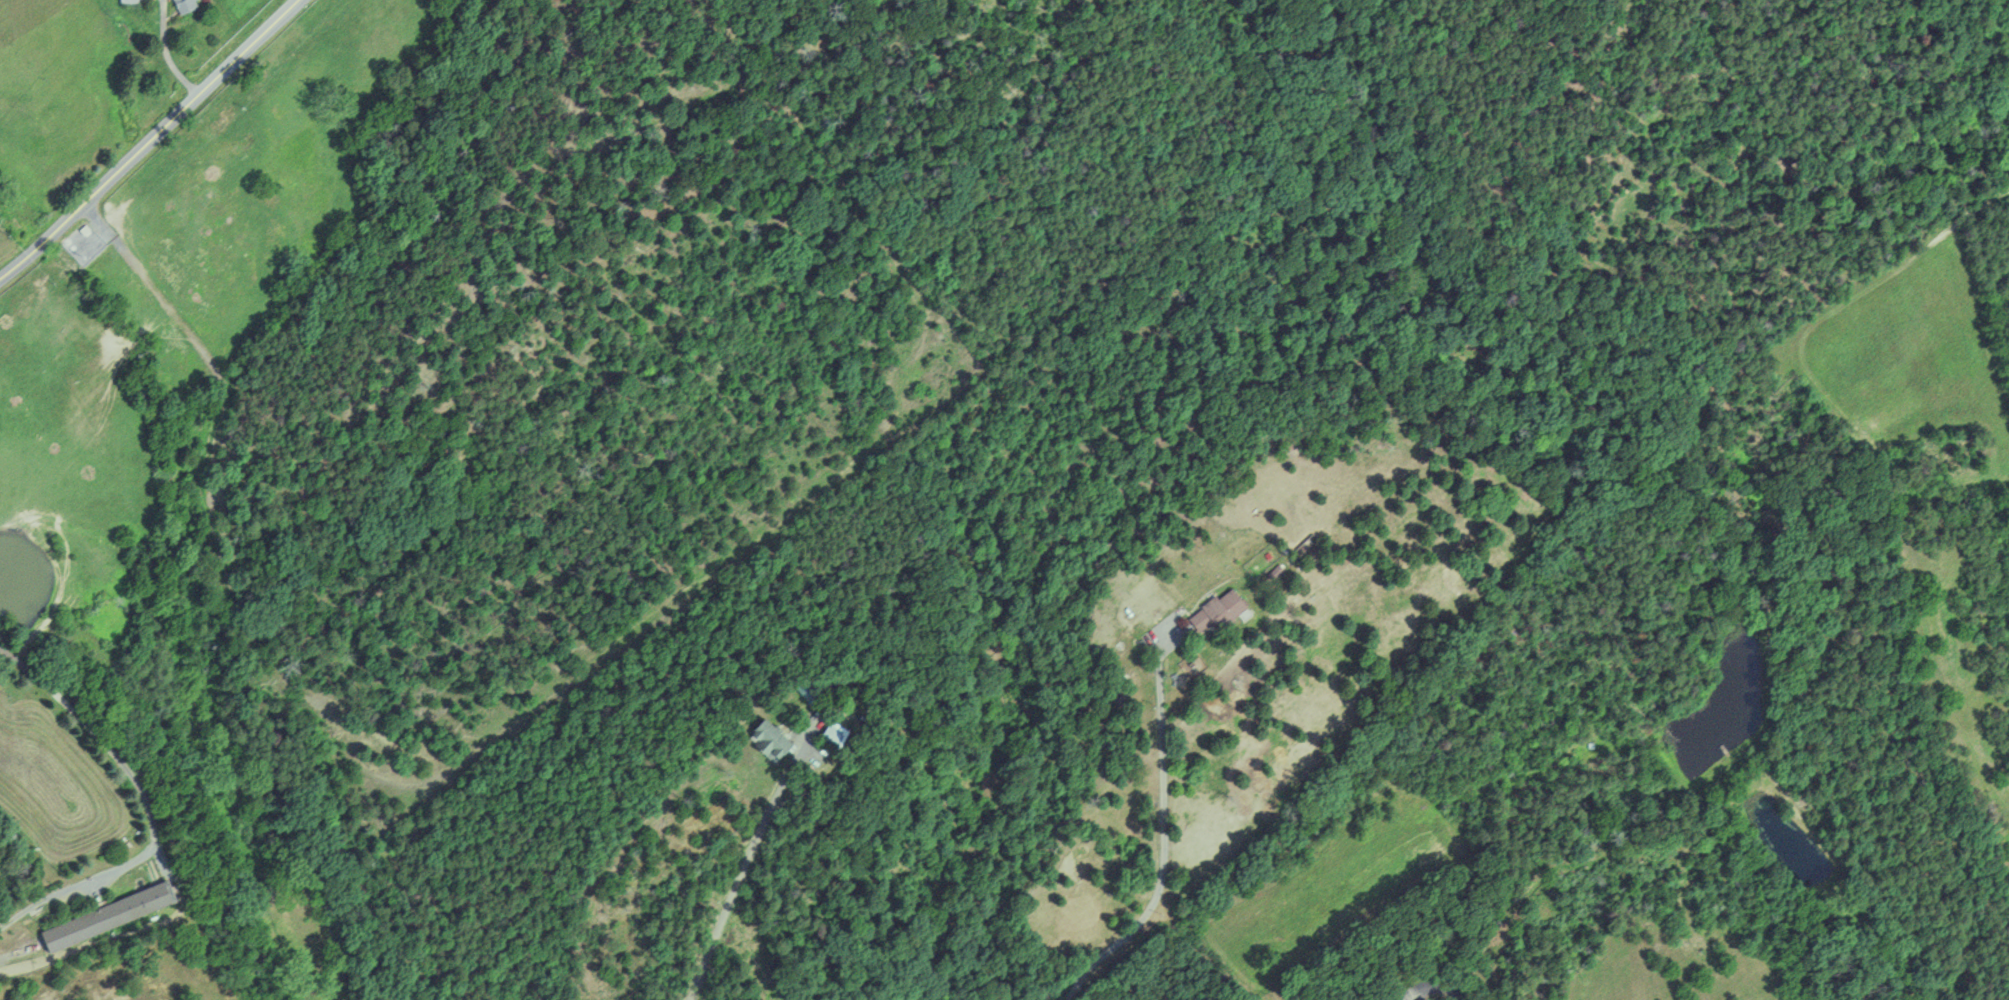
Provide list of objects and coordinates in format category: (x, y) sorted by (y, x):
building: (130, 0)
building: (187, 5)
road: (148, 139)
building: (1220, 609)
building: (836, 735)
building: (774, 739)
road: (143, 803)
road: (1162, 841)
road: (743, 865)
building: (112, 916)
road: (1076, 977)
road: (1434, 984)

